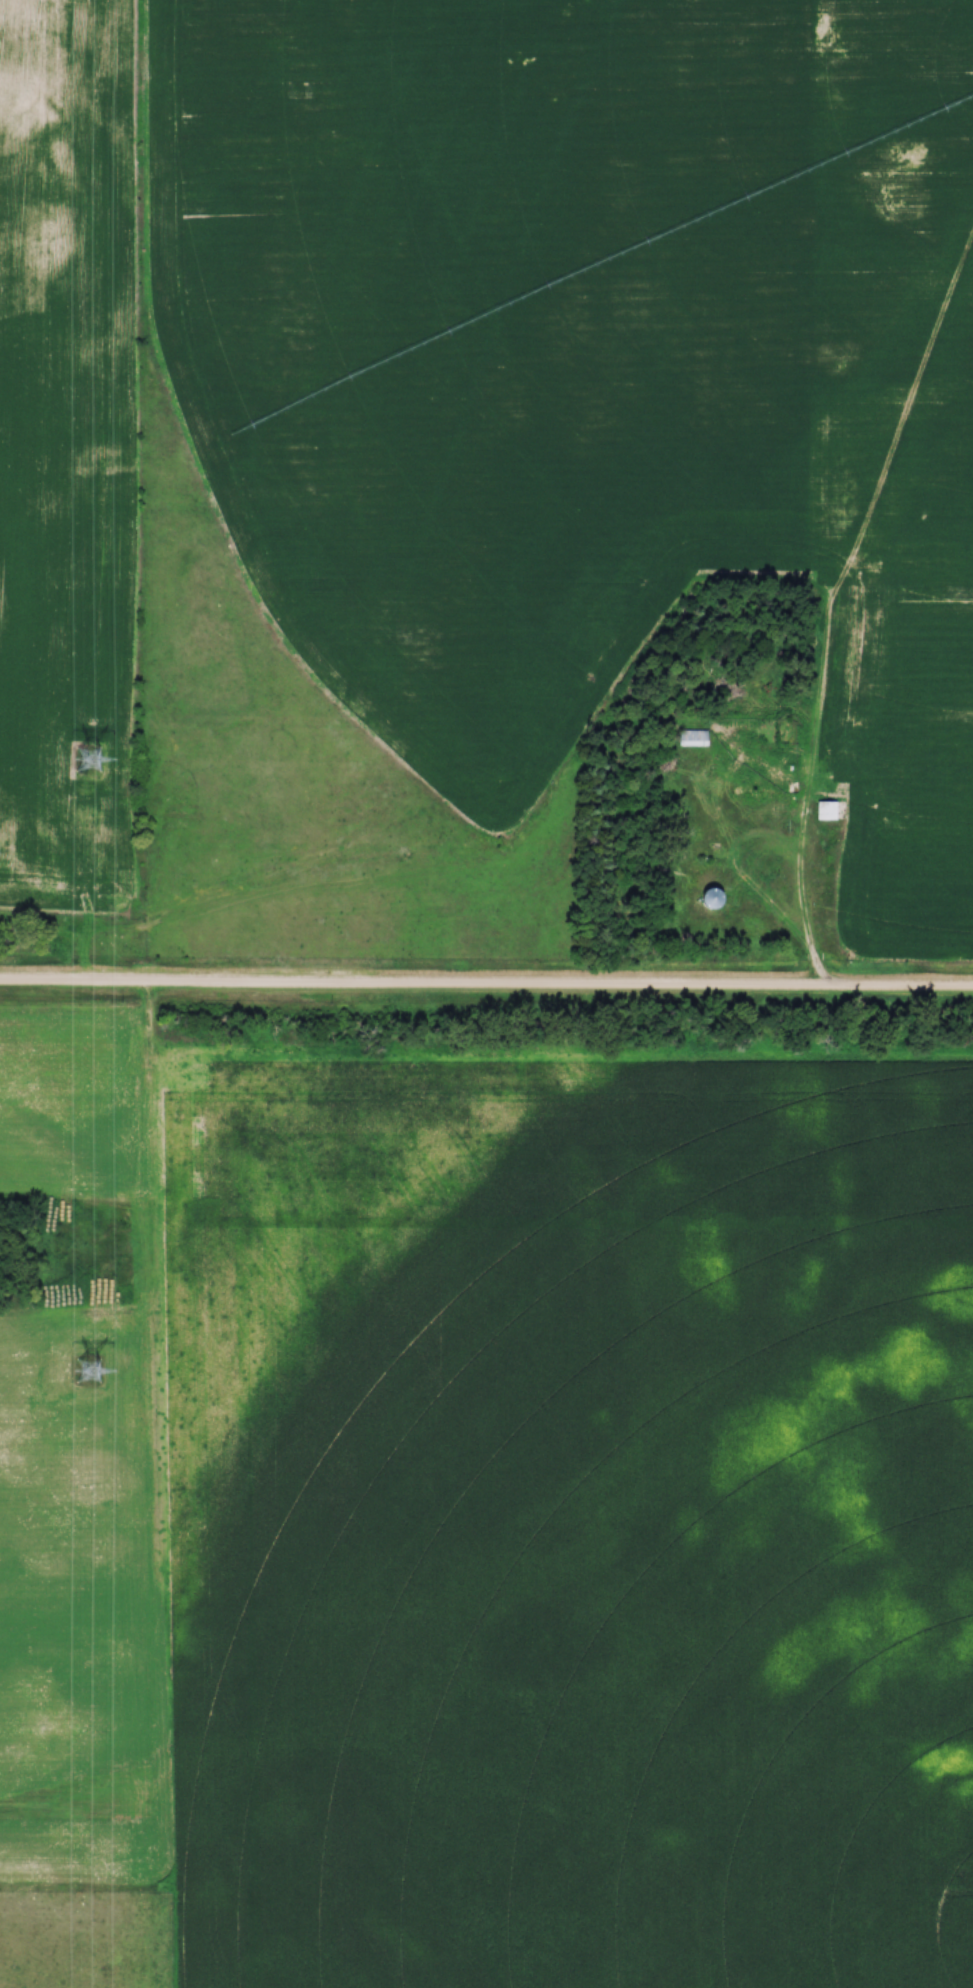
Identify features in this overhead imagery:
building: (698, 739)
power tower: (91, 761)
building: (831, 812)
road: (805, 843)
road: (486, 987)
power tower: (90, 1370)

